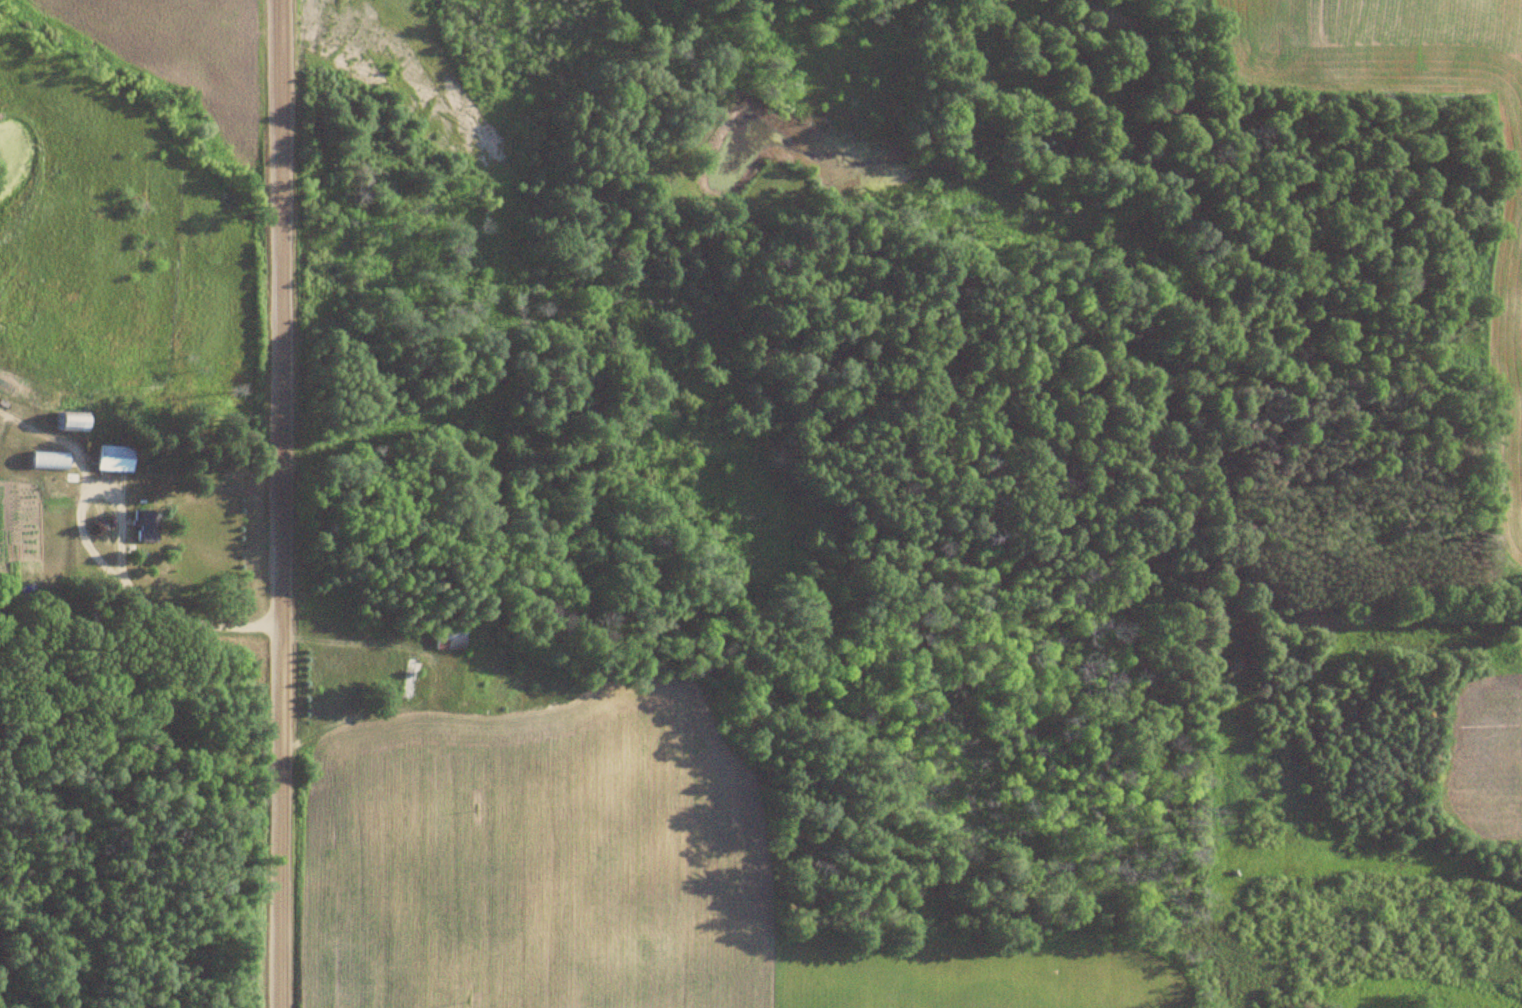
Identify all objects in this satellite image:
building: (74, 423)
building: (115, 459)
building: (49, 460)
road: (270, 503)
building: (145, 524)
building: (449, 640)
road: (135, 662)
building: (409, 679)

